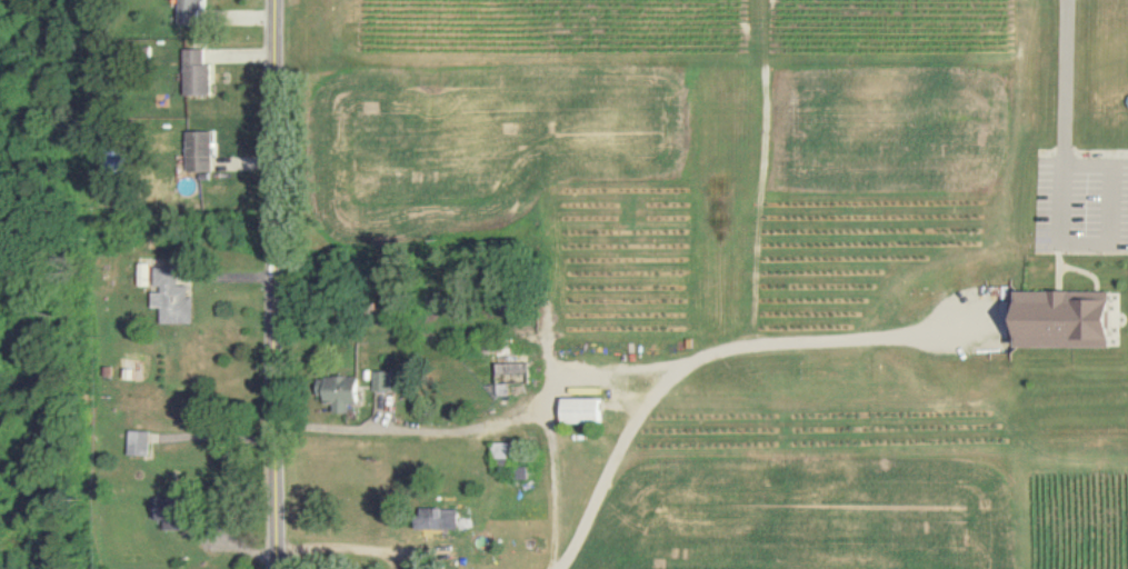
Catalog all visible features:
building: (194, 12)
building: (198, 73)
road: (1069, 81)
building: (200, 151)
building: (114, 163)
road: (1114, 241)
road: (280, 283)
building: (173, 296)
building: (1071, 319)
road: (699, 352)
building: (343, 392)
building: (585, 410)
road: (492, 416)
road: (221, 437)
building: (141, 443)
building: (172, 515)
building: (438, 520)
road: (353, 548)

